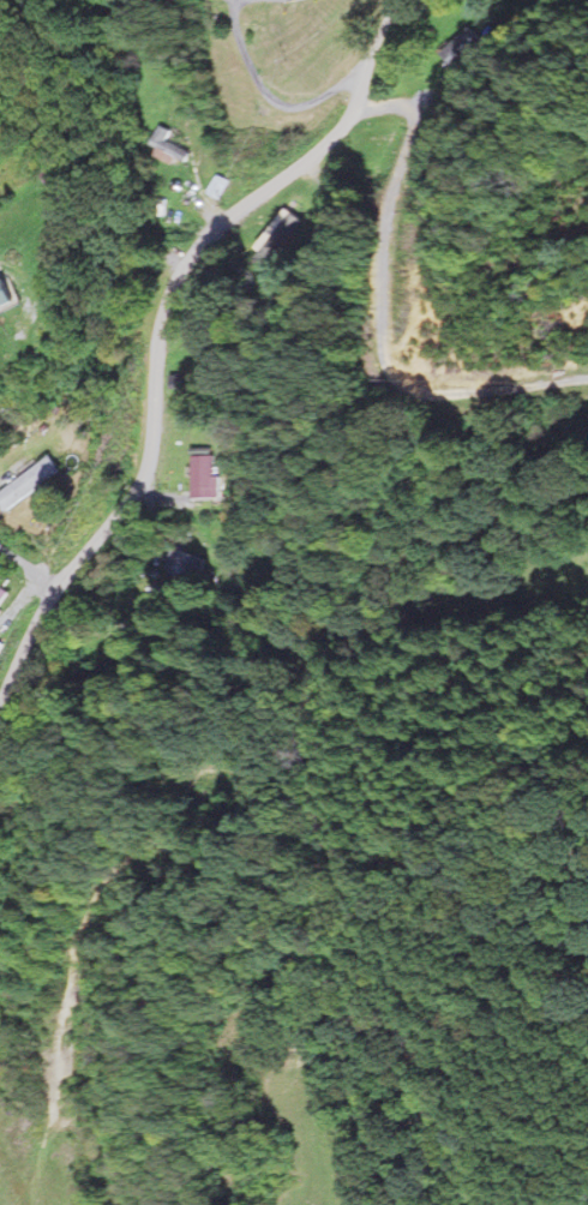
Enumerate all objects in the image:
building: (300, 0)
building: (463, 48)
road: (275, 100)
road: (416, 108)
building: (172, 144)
building: (276, 254)
road: (390, 263)
road: (30, 287)
building: (10, 295)
building: (209, 322)
road: (161, 334)
building: (182, 388)
building: (205, 475)
building: (36, 484)
building: (185, 563)
road: (30, 566)
building: (4, 596)
road: (521, 1011)
road: (60, 1069)

